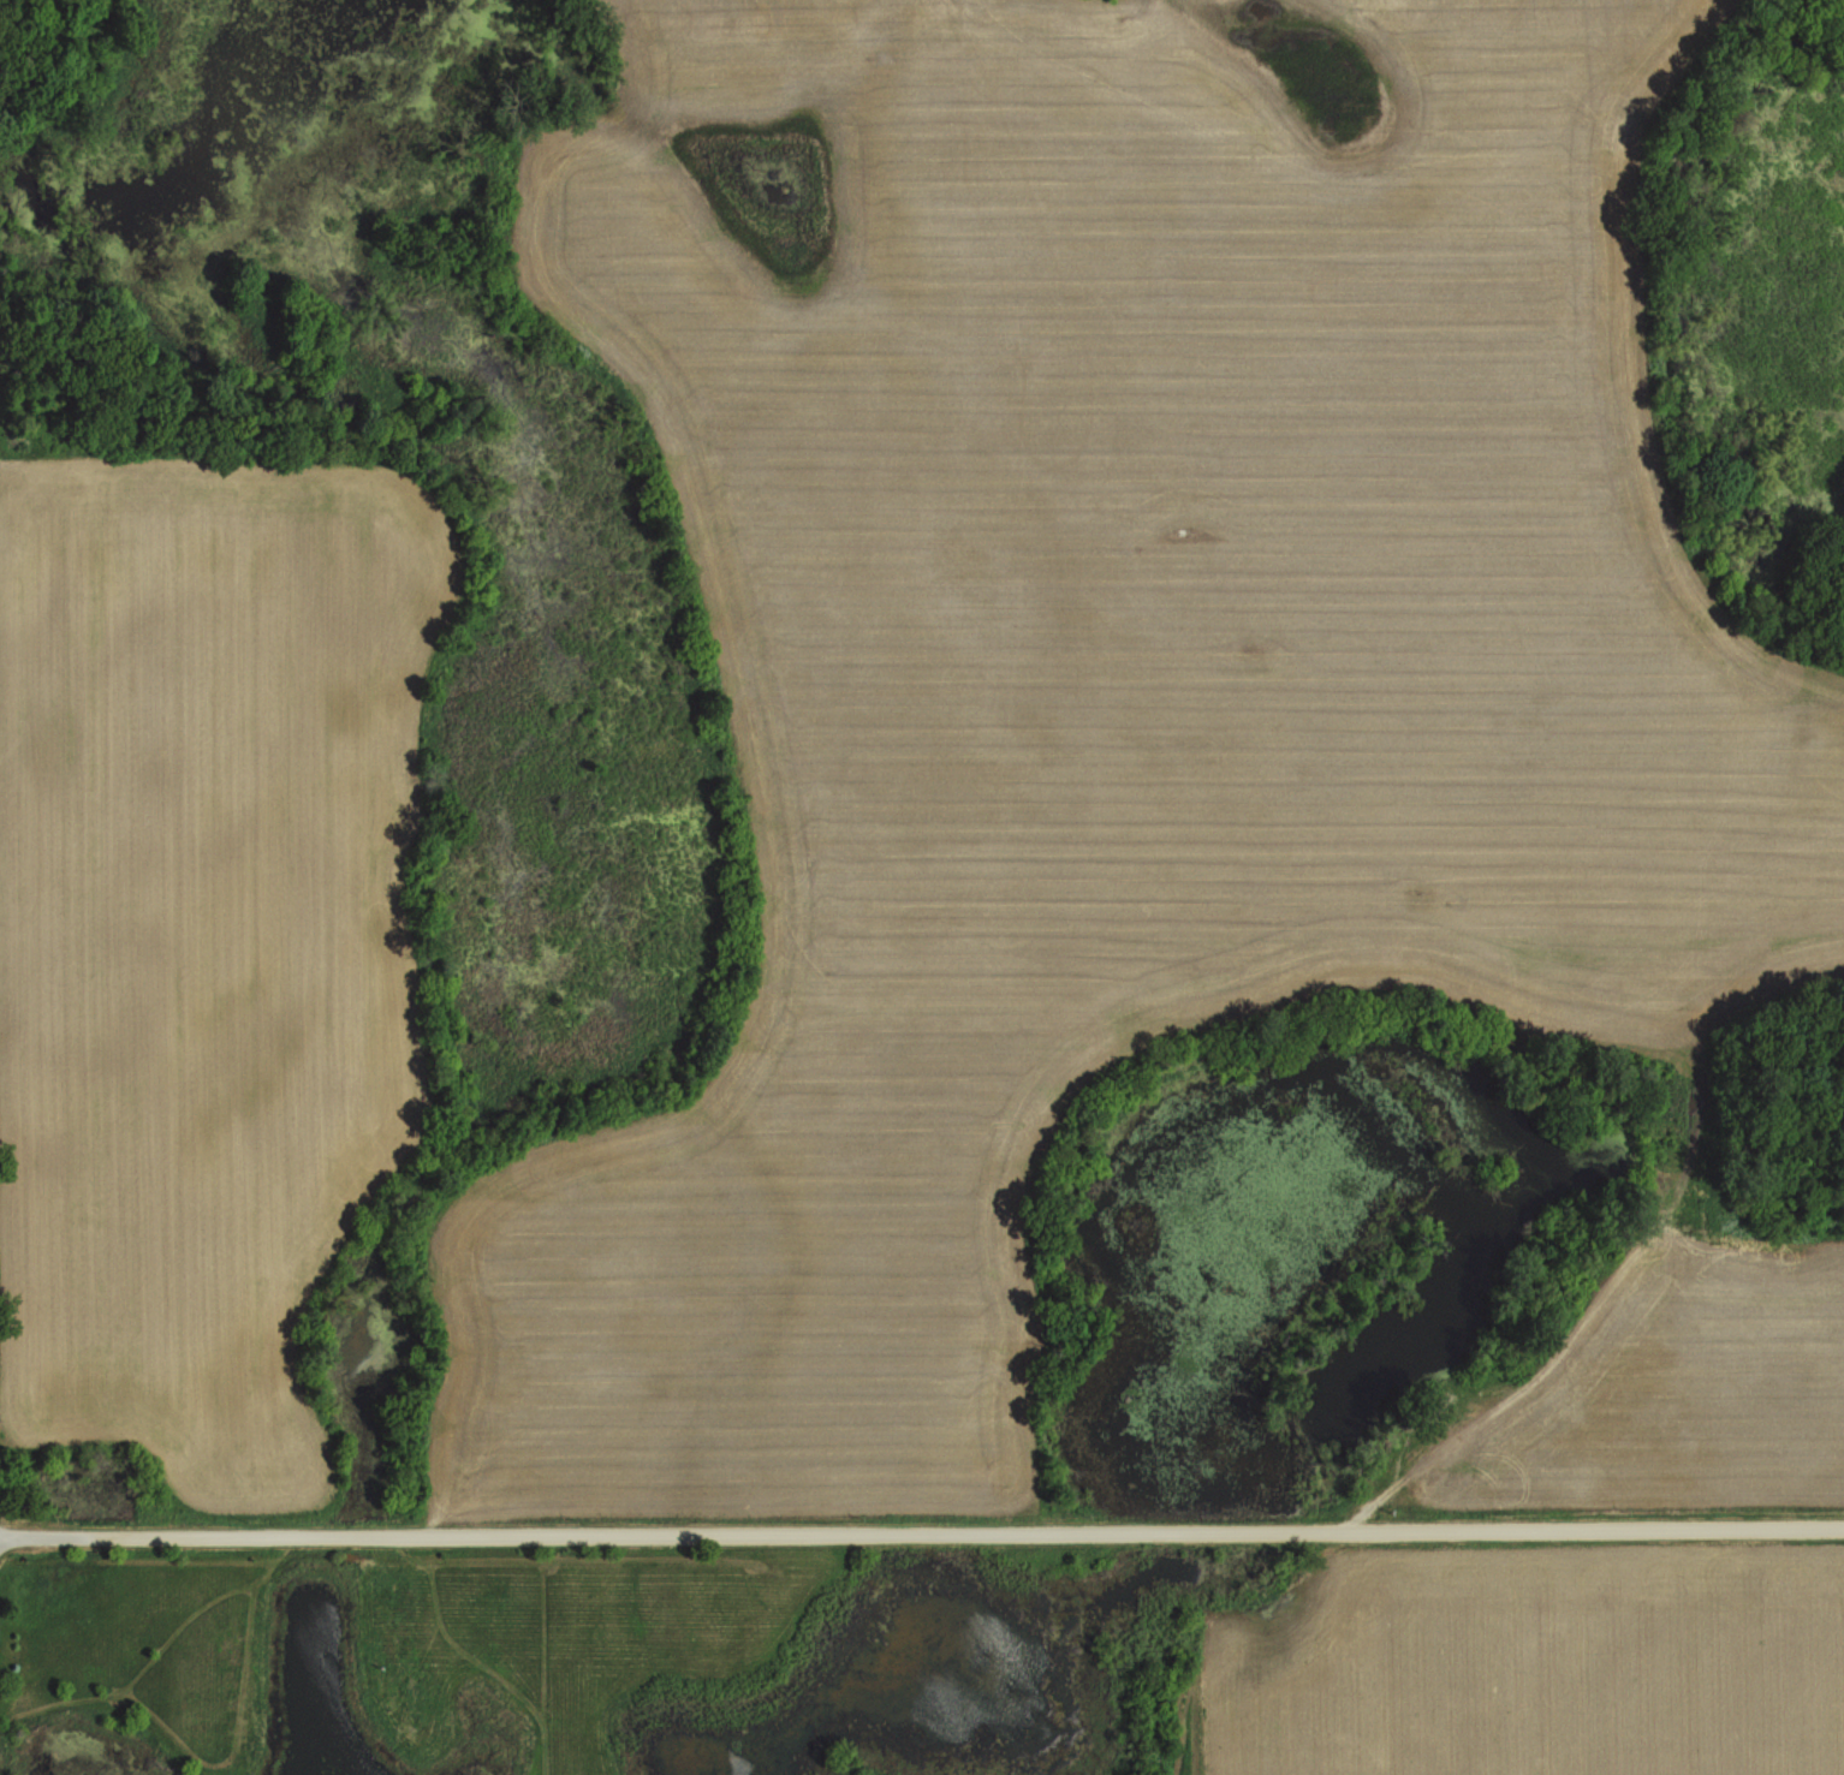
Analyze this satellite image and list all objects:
crop: (1108, 668)
crop: (209, 931)
crop: (1666, 1382)
road: (922, 1532)
crop: (1537, 1666)

